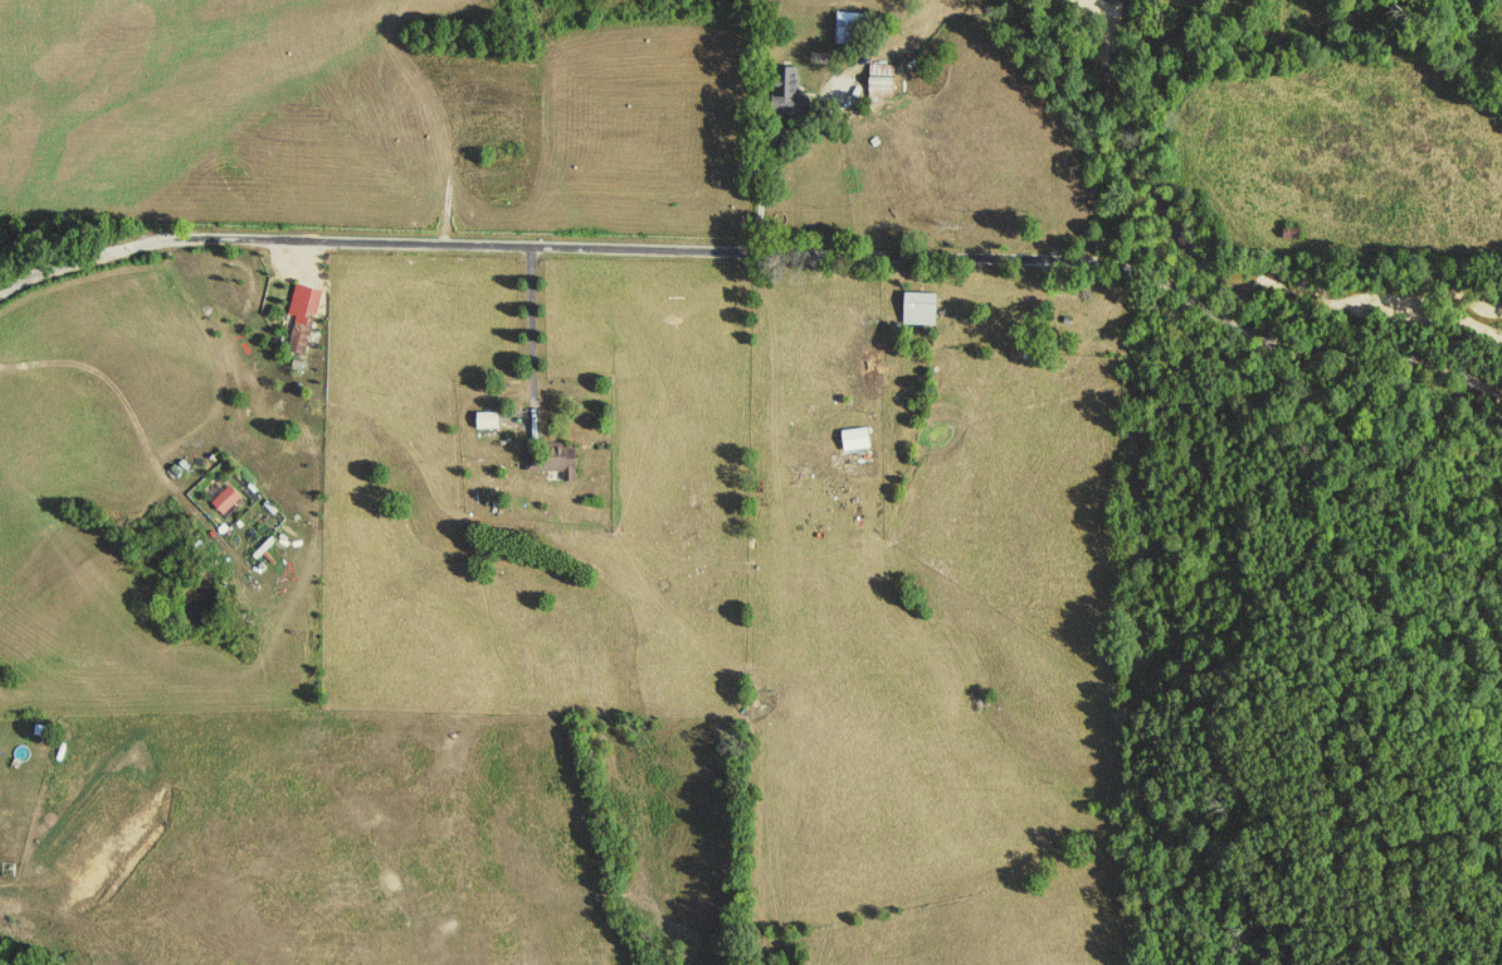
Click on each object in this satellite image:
building: (853, 29)
building: (798, 99)
road: (759, 172)
road: (765, 254)
road: (12, 281)
building: (917, 309)
building: (306, 317)
road: (528, 332)
building: (492, 421)
building: (854, 439)
building: (560, 463)
building: (230, 499)

